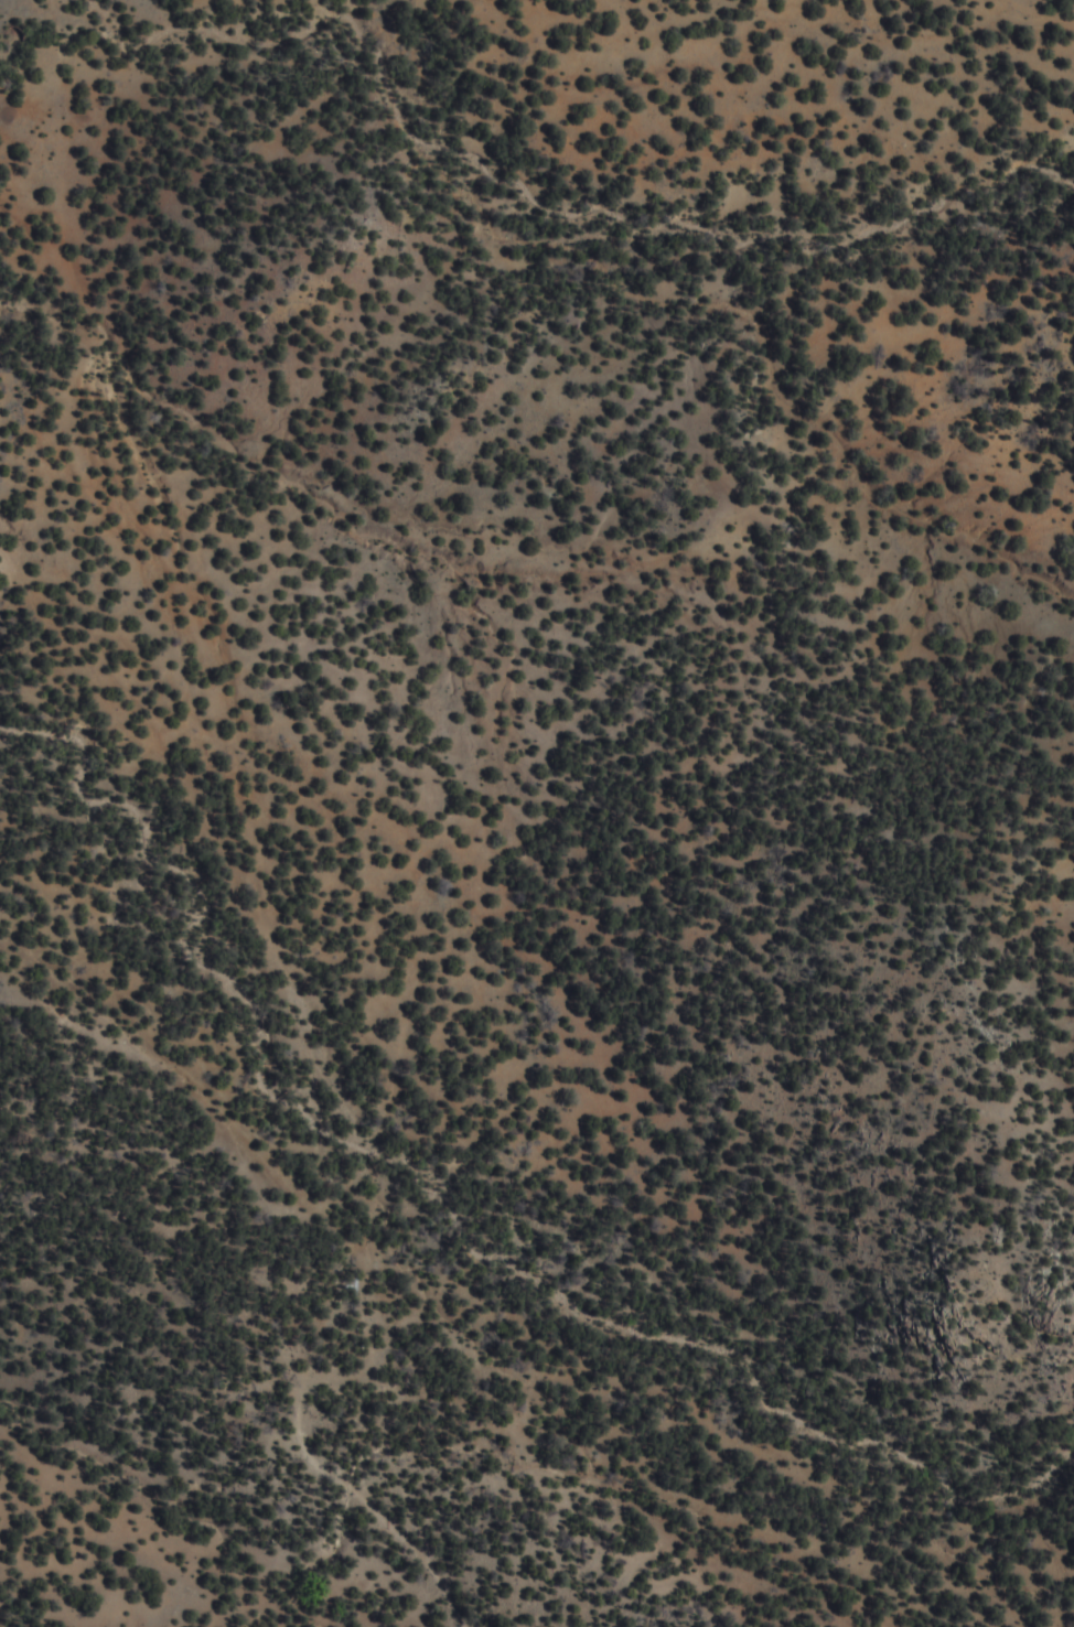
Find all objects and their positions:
road: (724, 52)

